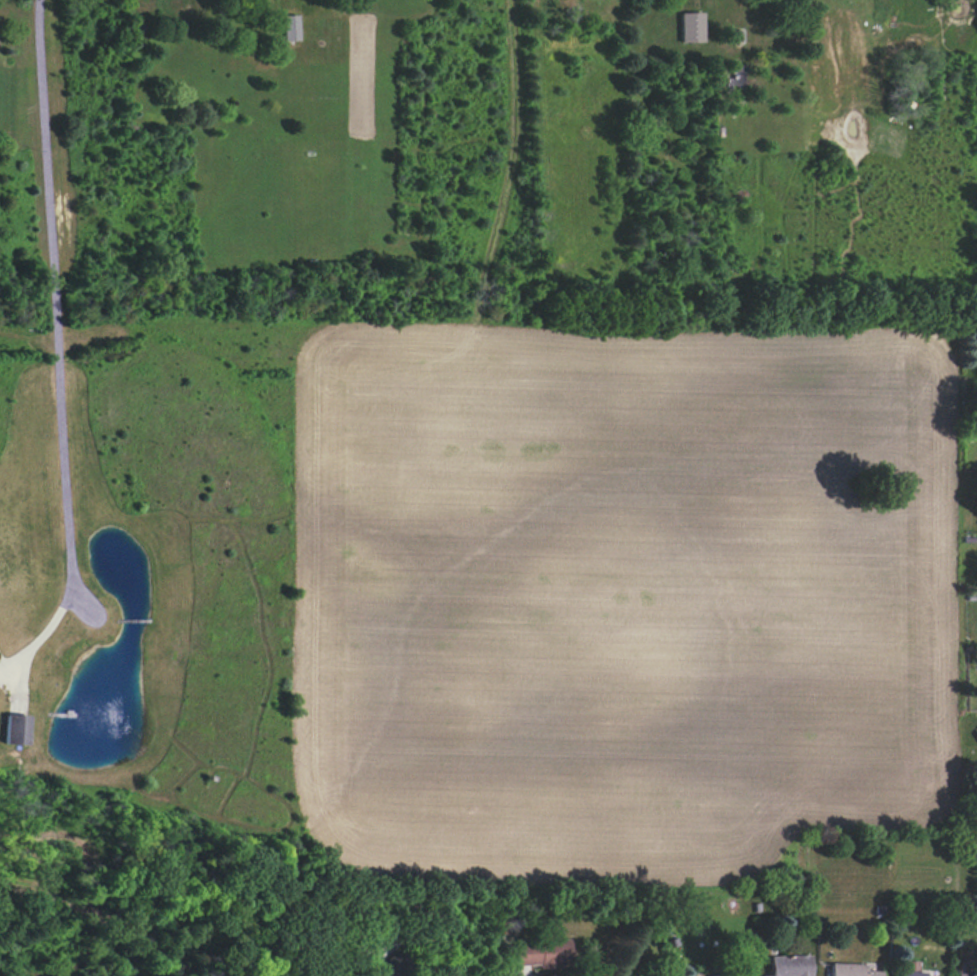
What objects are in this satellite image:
building: (290, 27)
building: (691, 27)
building: (737, 76)
road: (55, 348)
crop: (623, 594)
building: (14, 730)
road: (434, 941)
building: (537, 952)
building: (785, 964)
building: (389, 965)
building: (847, 967)
building: (910, 967)
building: (715, 970)
building: (628, 971)
building: (963, 972)

